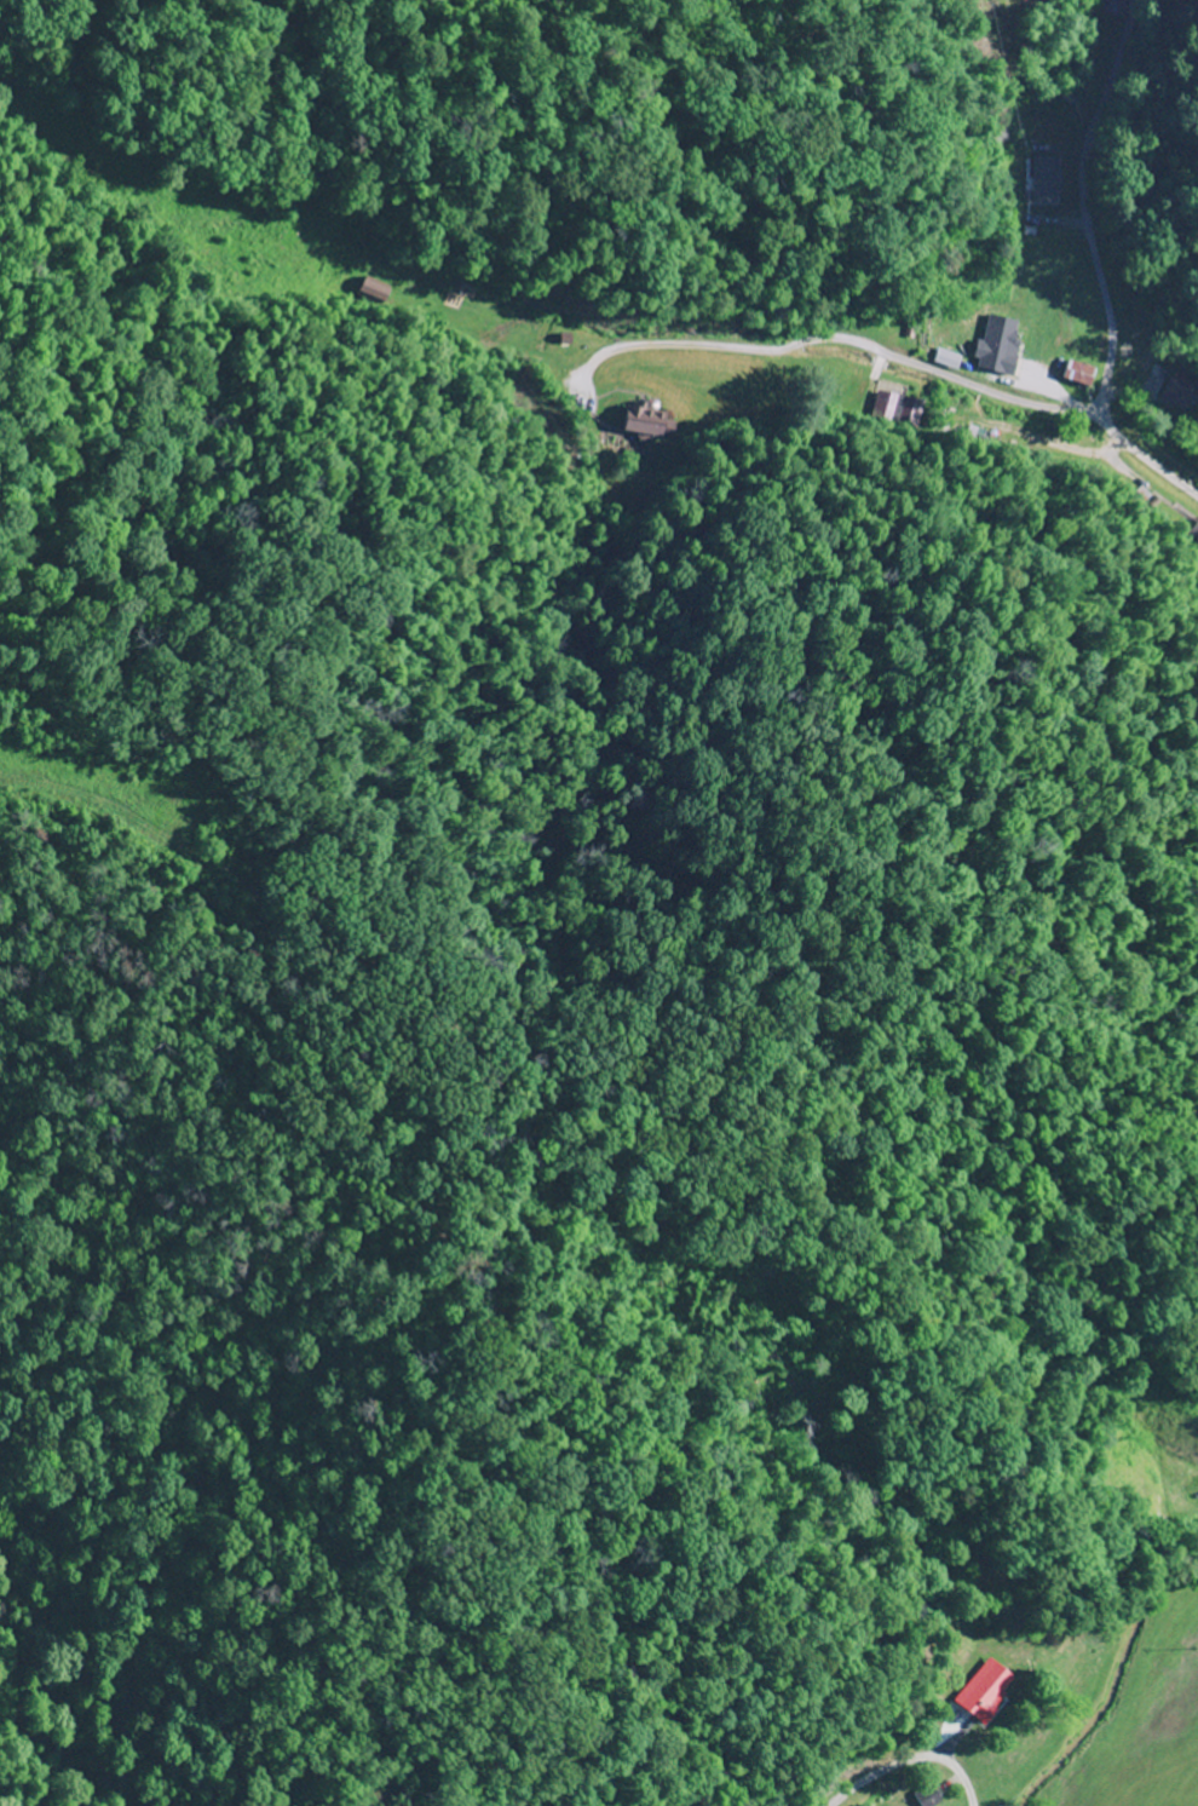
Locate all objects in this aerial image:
building: (1046, 156)
building: (1076, 374)
building: (1176, 392)
road: (1046, 419)
building: (990, 1691)
building: (931, 1796)

